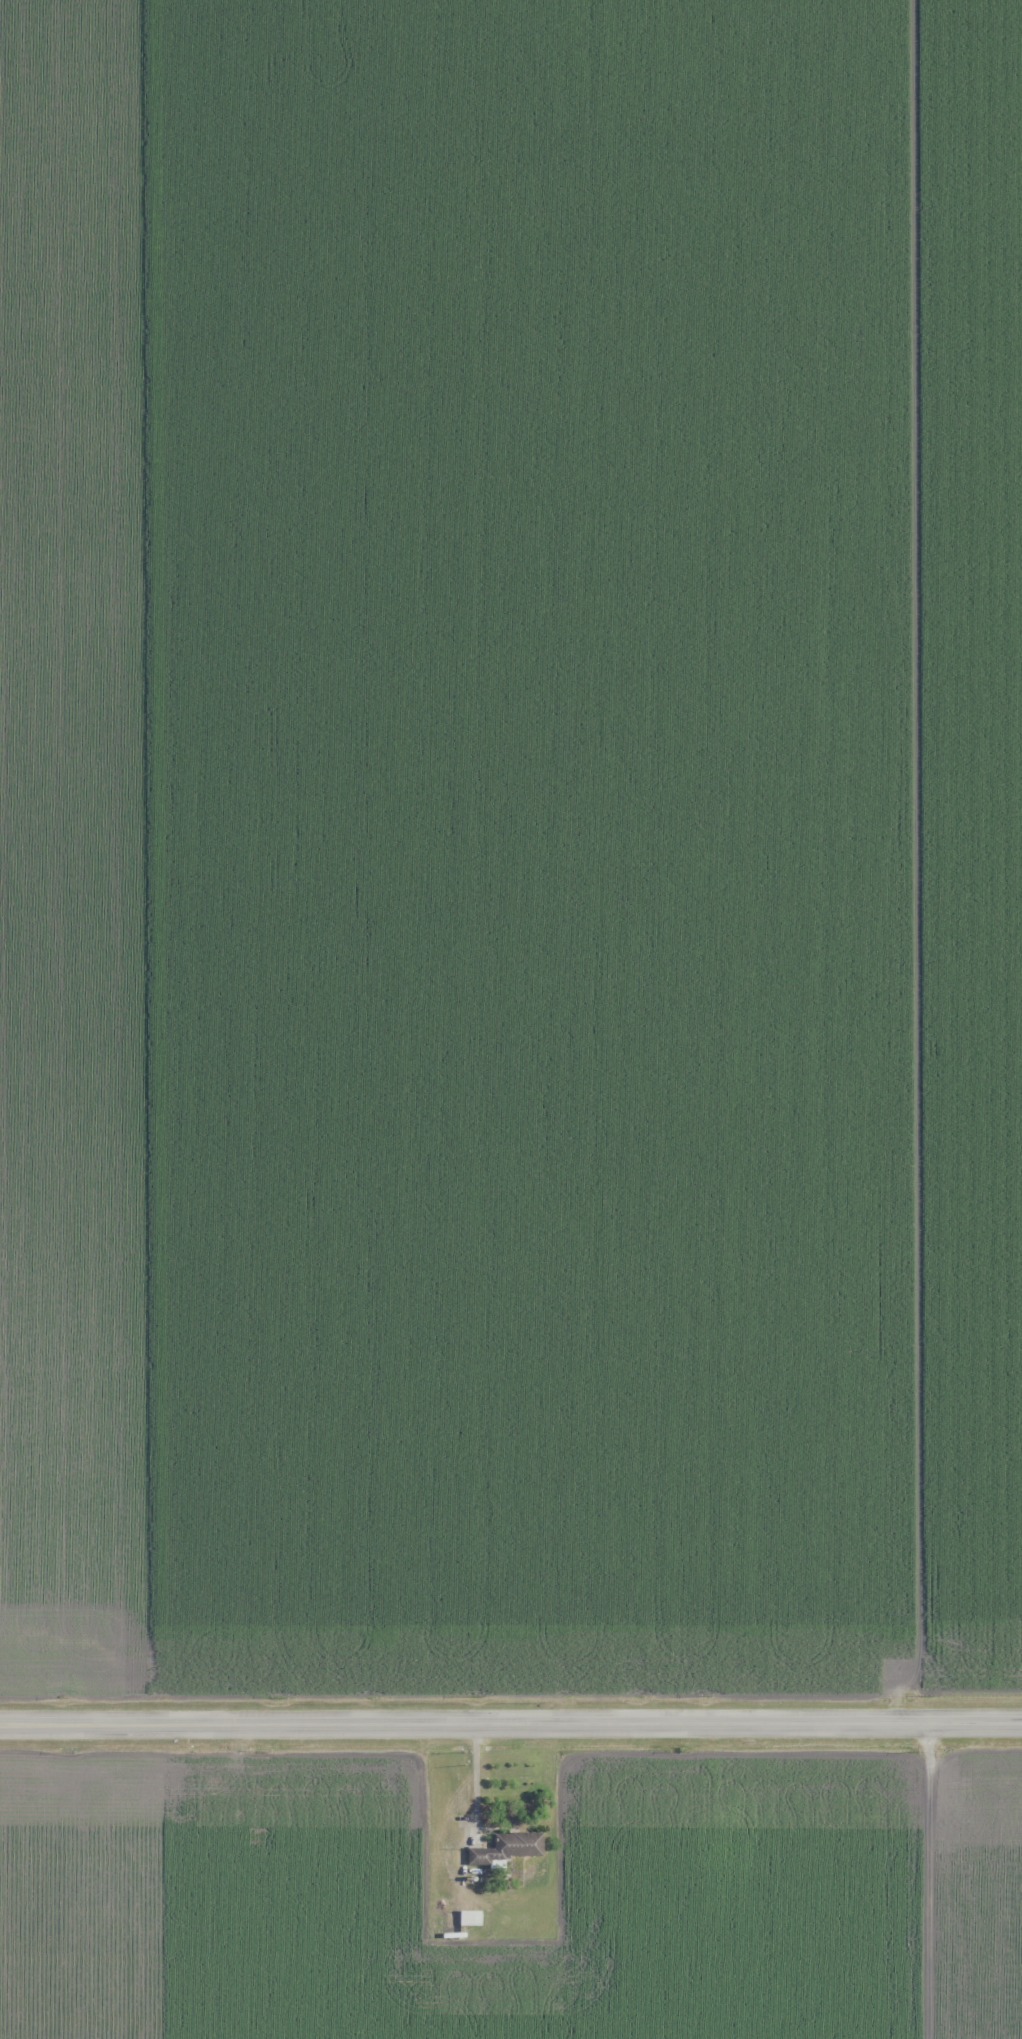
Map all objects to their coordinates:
road: (511, 1724)
road: (480, 1773)
building: (506, 1848)
road: (929, 1881)
building: (469, 1918)

